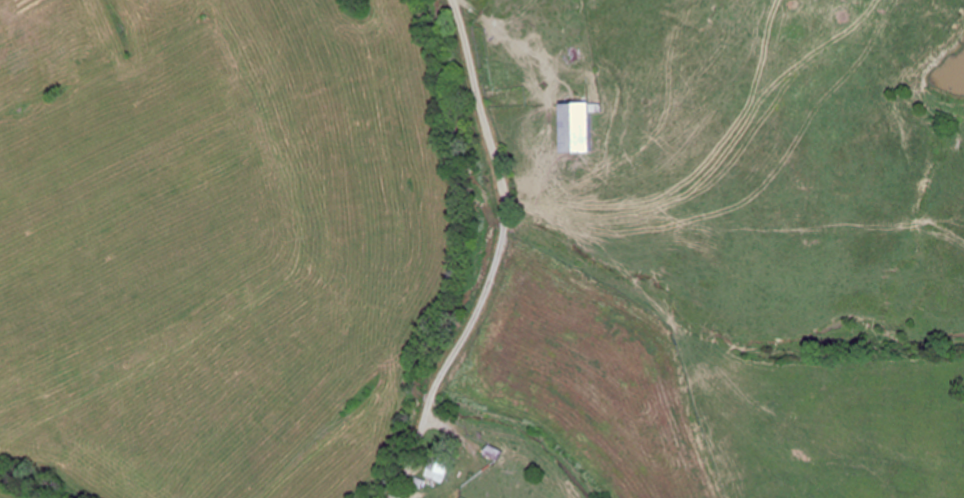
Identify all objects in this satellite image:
building: (577, 127)
road: (502, 255)
building: (495, 453)
building: (439, 469)

